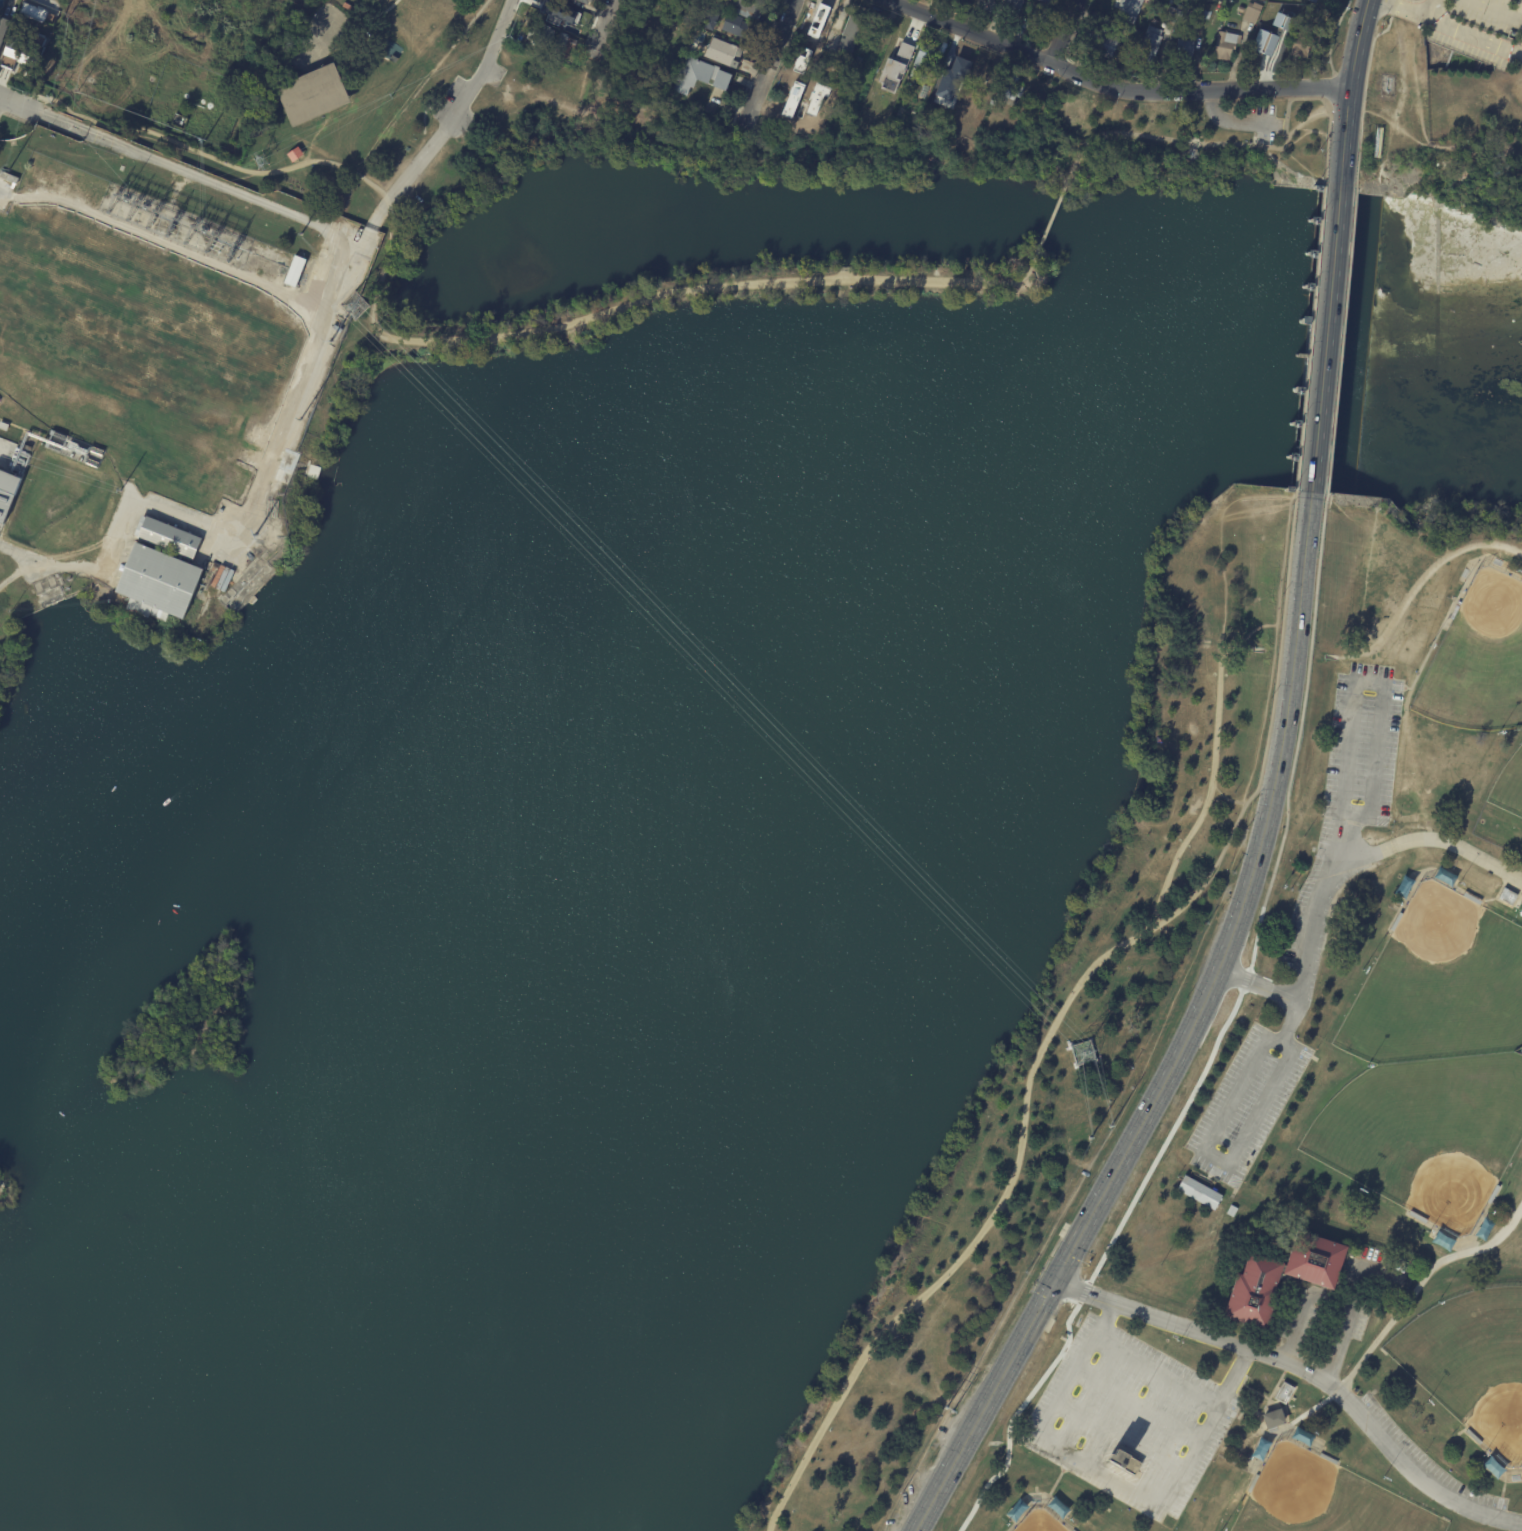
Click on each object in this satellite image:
building: (988, 1)
building: (995, 1)
building: (1300, 1)
building: (1315, 1)
road: (508, 2)
building: (587, 2)
building: (661, 2)
building: (698, 2)
building: (1045, 2)
building: (1173, 2)
building: (1033, 3)
building: (1015, 6)
building: (988, 7)
building: (351, 8)
building: (750, 8)
road: (1430, 9)
building: (1132, 10)
building: (1309, 10)
road: (1495, 10)
building: (561, 12)
building: (36, 13)
building: (1251, 13)
building: (1042, 15)
building: (1178, 15)
building: (1209, 15)
building: (648, 19)
building: (686, 19)
building: (712, 20)
building: (1156, 21)
building: (1280, 21)
building: (568, 22)
building: (3, 27)
building: (739, 27)
road: (1450, 27)
building: (852, 32)
road: (1065, 32)
building: (1511, 34)
road: (597, 35)
building: (1103, 37)
building: (552, 40)
building: (1149, 43)
building: (1262, 43)
building: (643, 45)
building: (1302, 45)
building: (24, 47)
building: (1221, 47)
building: (693, 48)
building: (945, 48)
building: (1182, 49)
building: (724, 52)
building: (383, 53)
building: (925, 56)
road: (772, 57)
building: (394, 59)
building: (858, 65)
building: (958, 68)
building: (628, 69)
building: (653, 69)
building: (894, 69)
building: (916, 73)
building: (702, 78)
building: (911, 84)
building: (939, 87)
road: (1111, 87)
building: (1012, 88)
road: (1348, 93)
building: (316, 94)
park: (359, 94)
building: (1030, 96)
road: (0, 97)
road: (19, 103)
road: (11, 117)
road: (448, 121)
road: (1237, 121)
parking lot: (1260, 123)
road: (1329, 125)
railway: (381, 138)
road: (1186, 141)
road: (1193, 145)
road: (1195, 151)
building: (1190, 153)
building: (296, 154)
power tower: (261, 162)
road: (1342, 174)
road: (202, 177)
road: (1357, 182)
road: (1051, 218)
park: (754, 220)
power substation: (173, 225)
power tower: (300, 235)
railway: (334, 247)
building: (297, 271)
road: (1348, 272)
power tower: (354, 306)
dam: (1309, 335)
road: (436, 340)
power tower: (330, 341)
road: (1310, 341)
road: (1324, 343)
road: (1335, 401)
power tower: (298, 420)
building: (297, 460)
road: (1328, 474)
power substation: (10, 475)
power tower: (120, 490)
building: (7, 493)
river: (706, 499)
road: (247, 515)
power tower: (253, 535)
building: (169, 538)
road: (16, 572)
building: (1520, 581)
road: (1419, 582)
building: (159, 584)
building: (1454, 610)
road: (1276, 642)
road: (1311, 648)
road: (1258, 649)
road: (1272, 651)
road: (1332, 656)
park: (1477, 657)
road: (1352, 680)
parking lot: (1363, 750)
road: (1212, 776)
park: (1509, 786)
road: (1271, 792)
road: (1216, 867)
road: (1336, 867)
building: (1506, 896)
building: (1470, 898)
building: (1394, 921)
park: (1440, 984)
road: (1257, 985)
park: (185, 1020)
park: (1064, 1036)
road: (1183, 1038)
power tower: (1085, 1054)
parking lot: (1248, 1100)
park: (1328, 1122)
park: (1426, 1134)
road: (1215, 1155)
road: (1150, 1174)
park: (8, 1192)
building: (1198, 1192)
building: (1492, 1195)
building: (1230, 1210)
building: (1415, 1217)
road: (980, 1234)
building: (1281, 1273)
road: (1423, 1280)
road: (1295, 1331)
road: (1336, 1351)
park: (1471, 1363)
road: (1158, 1369)
road: (1304, 1374)
building: (1283, 1393)
road: (1137, 1404)
building: (1271, 1419)
road: (1119, 1438)
building: (1473, 1438)
building: (1327, 1459)
building: (1126, 1462)
road: (1113, 1476)
building: (1251, 1484)
park: (1323, 1497)
park: (1042, 1522)
building: (1072, 1530)

